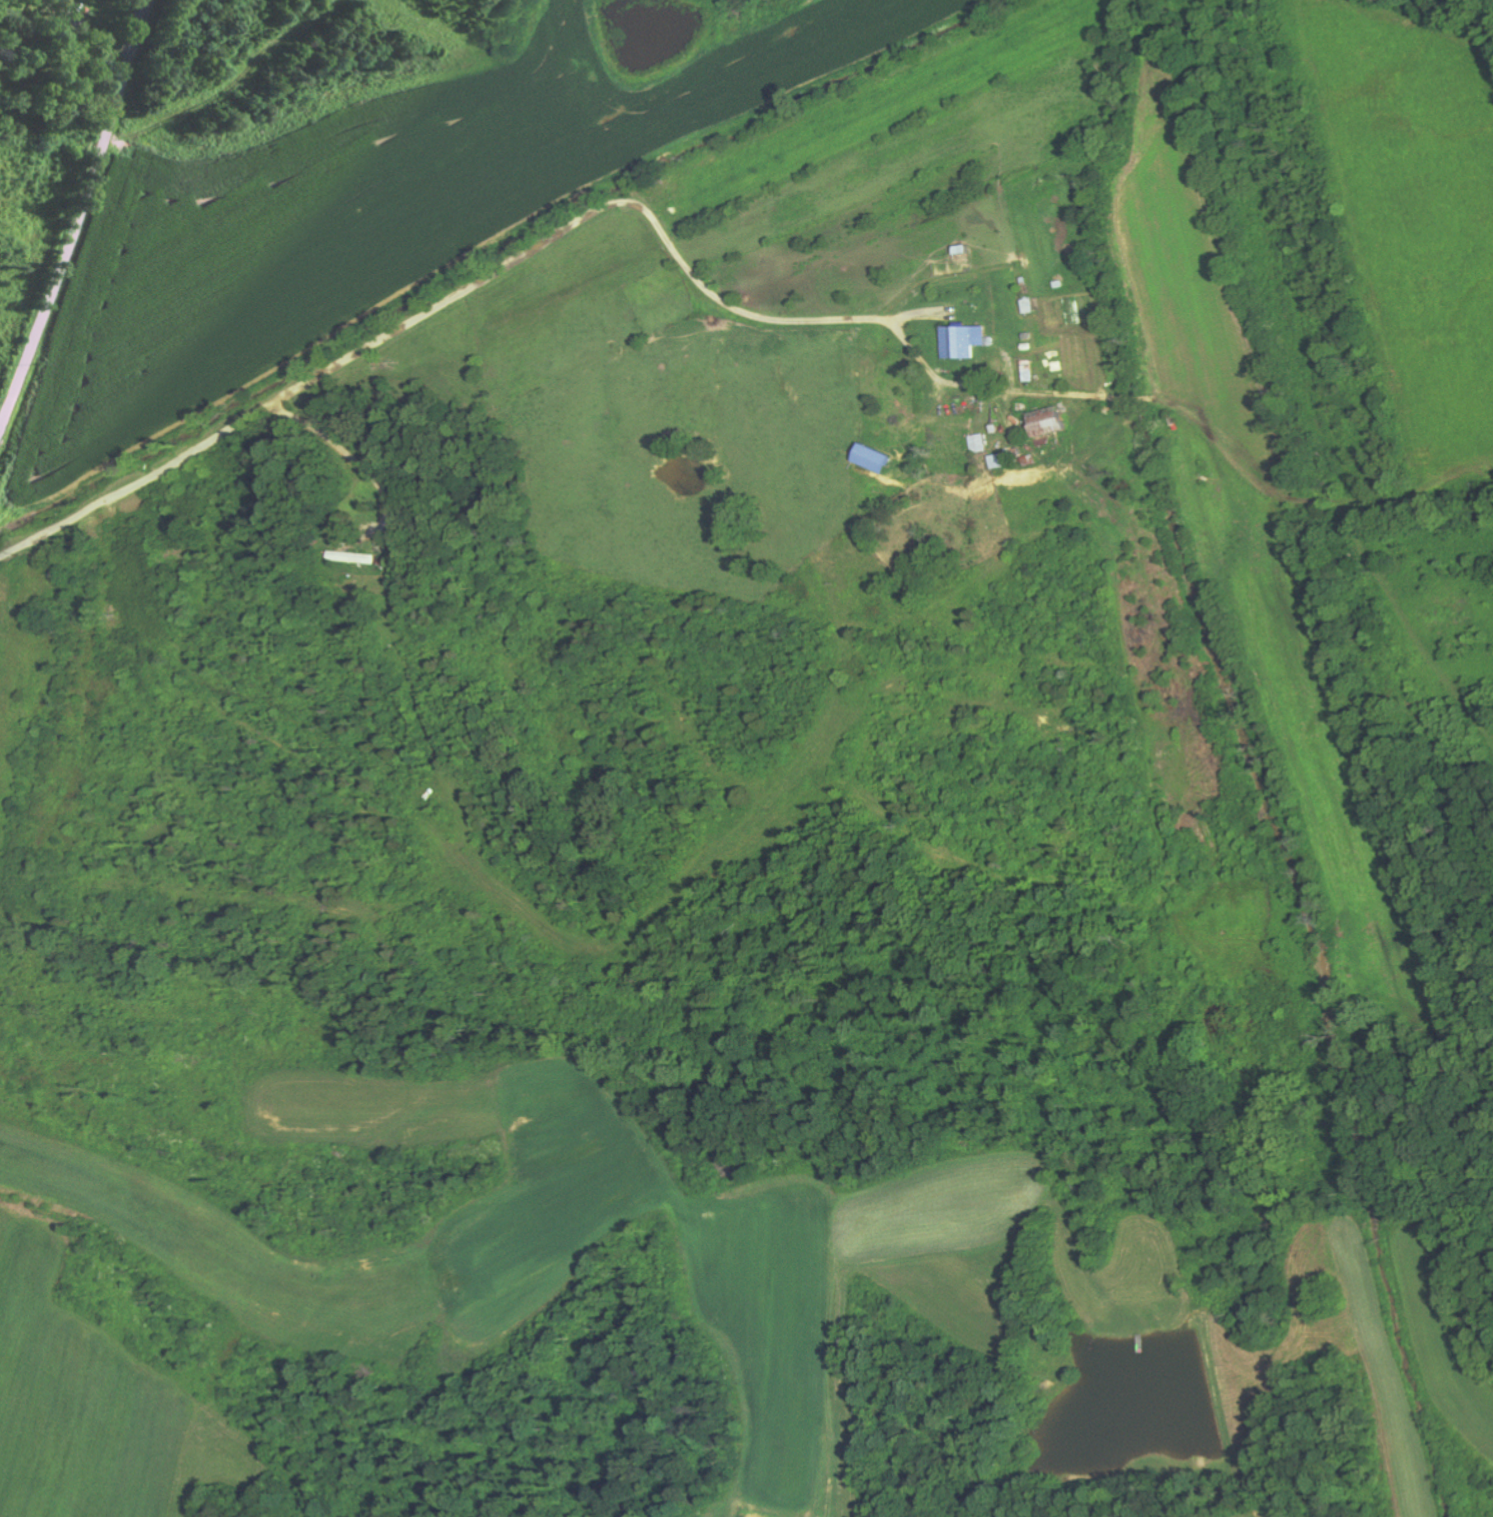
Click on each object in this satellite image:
road: (81, 214)
building: (968, 341)
road: (526, 398)
building: (1055, 422)
building: (979, 442)
building: (879, 459)
building: (1000, 460)
building: (356, 556)

